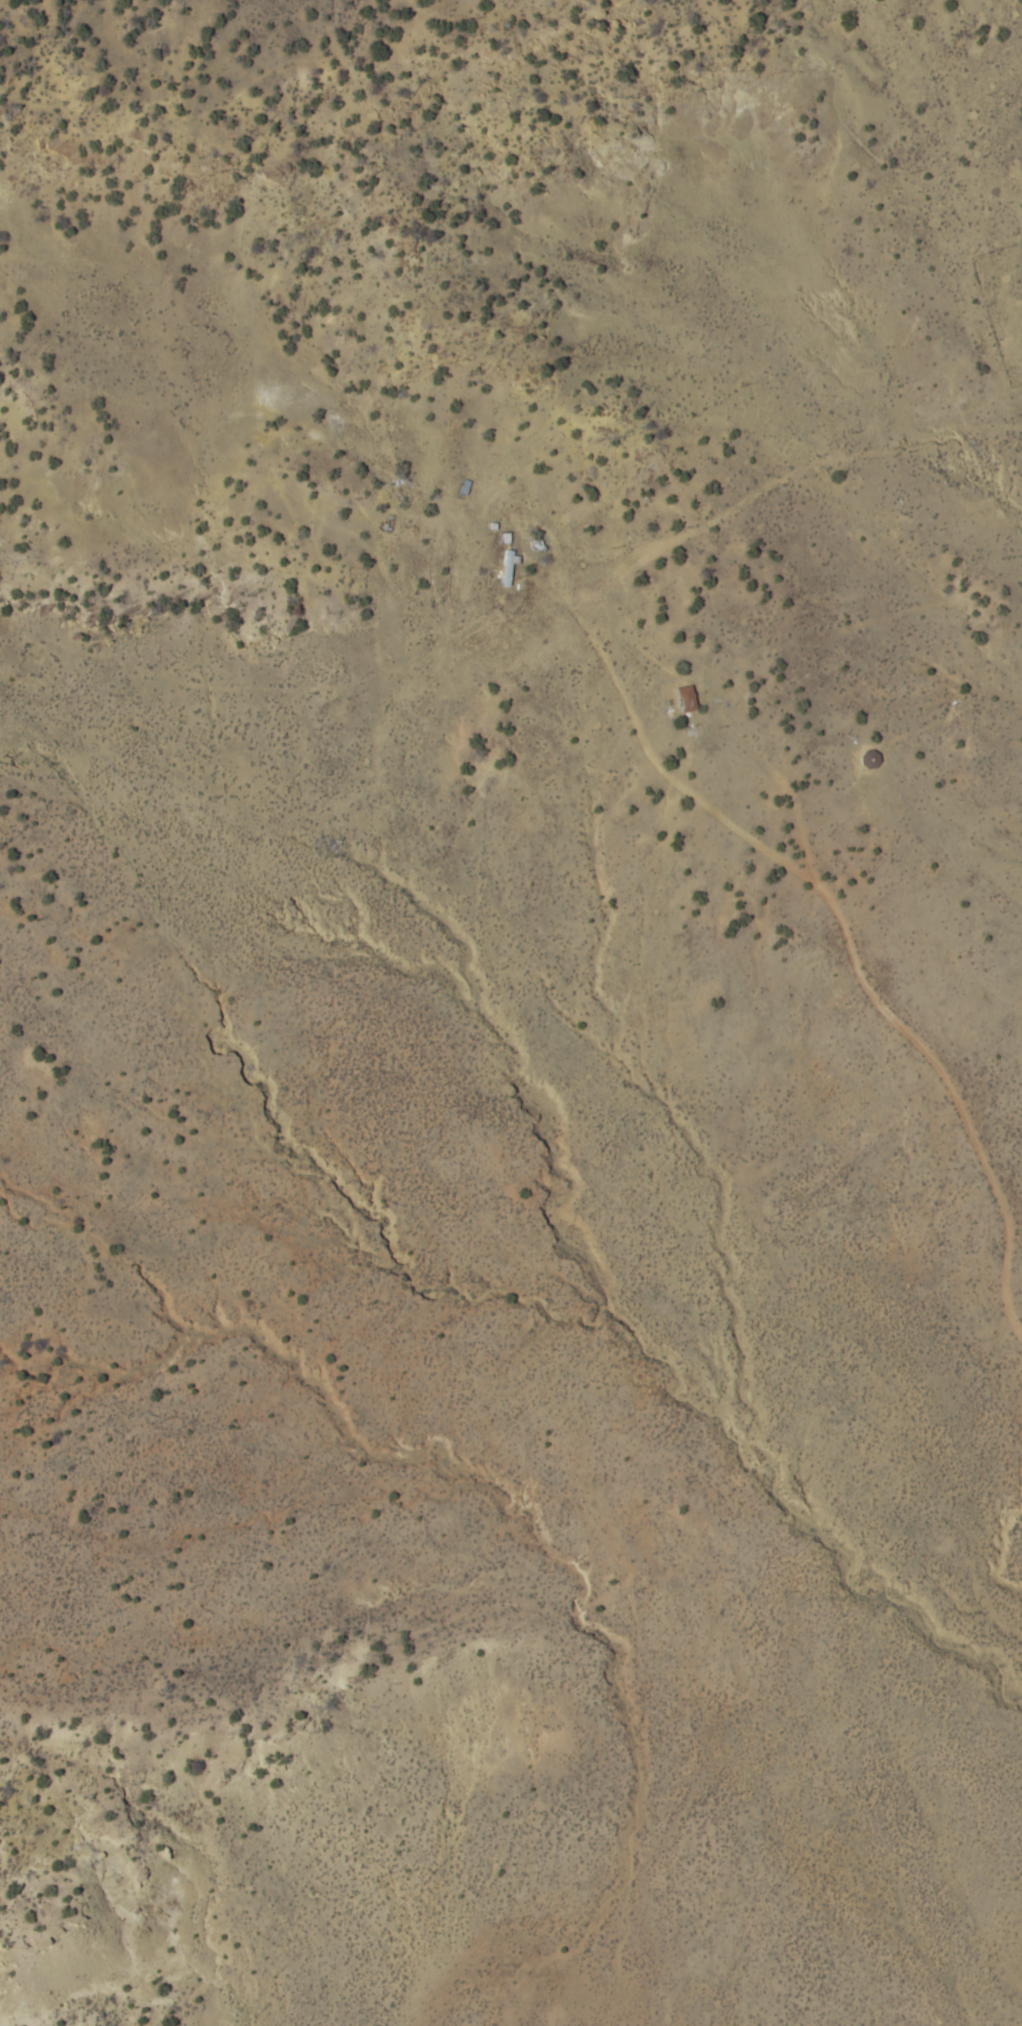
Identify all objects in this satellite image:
building: (502, 568)
building: (679, 699)
road: (302, 746)
road: (683, 768)

